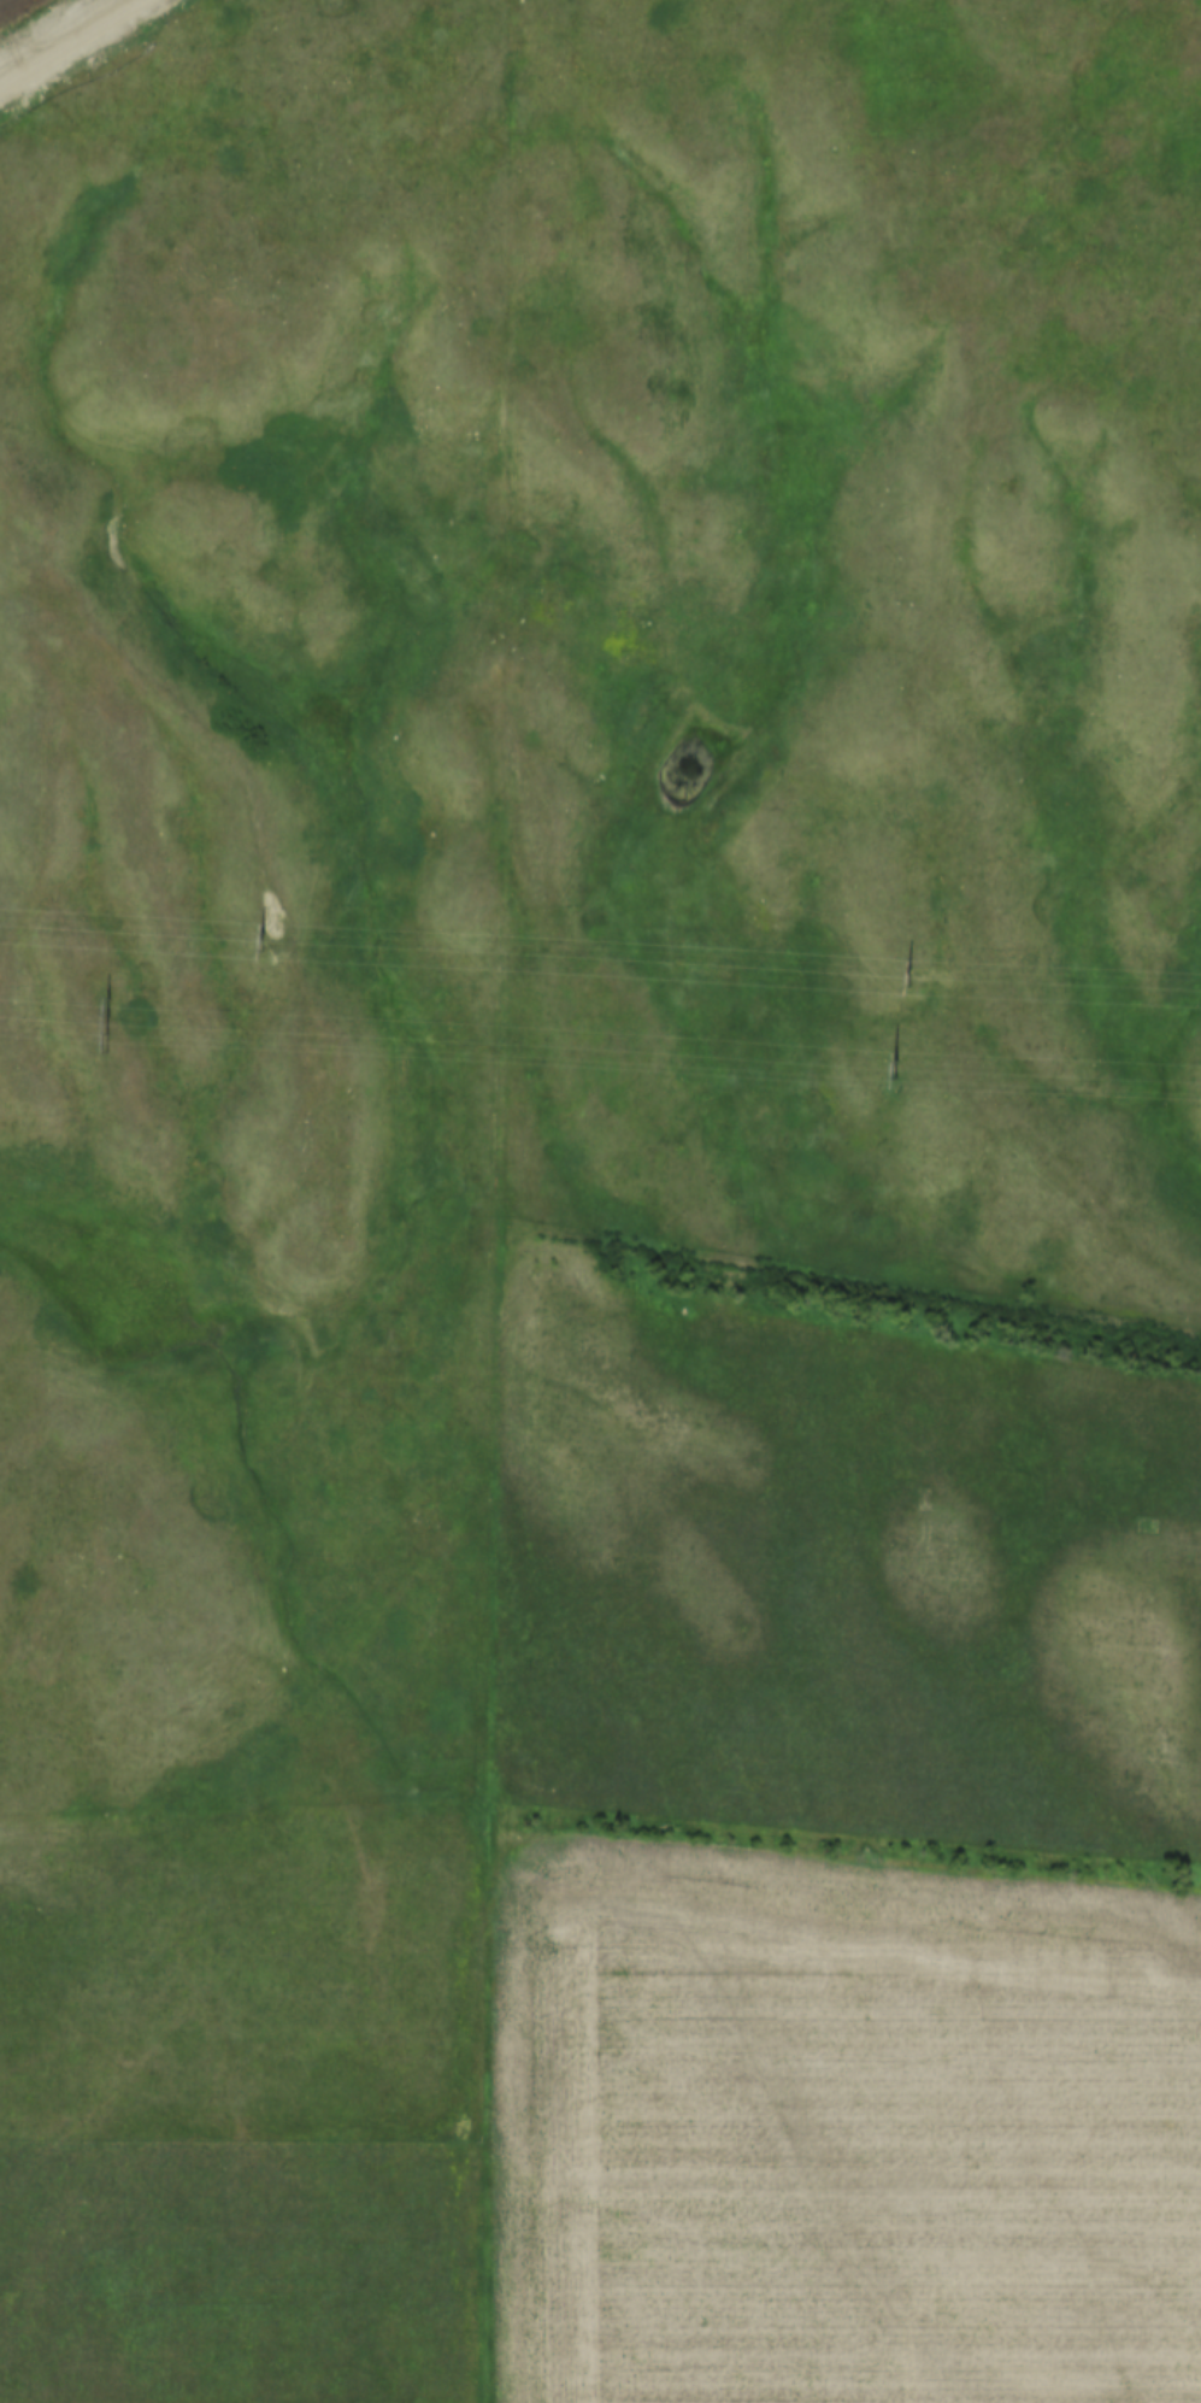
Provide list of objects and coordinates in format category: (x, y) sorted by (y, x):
power tower: (101, 1023)
power tower: (890, 1068)

